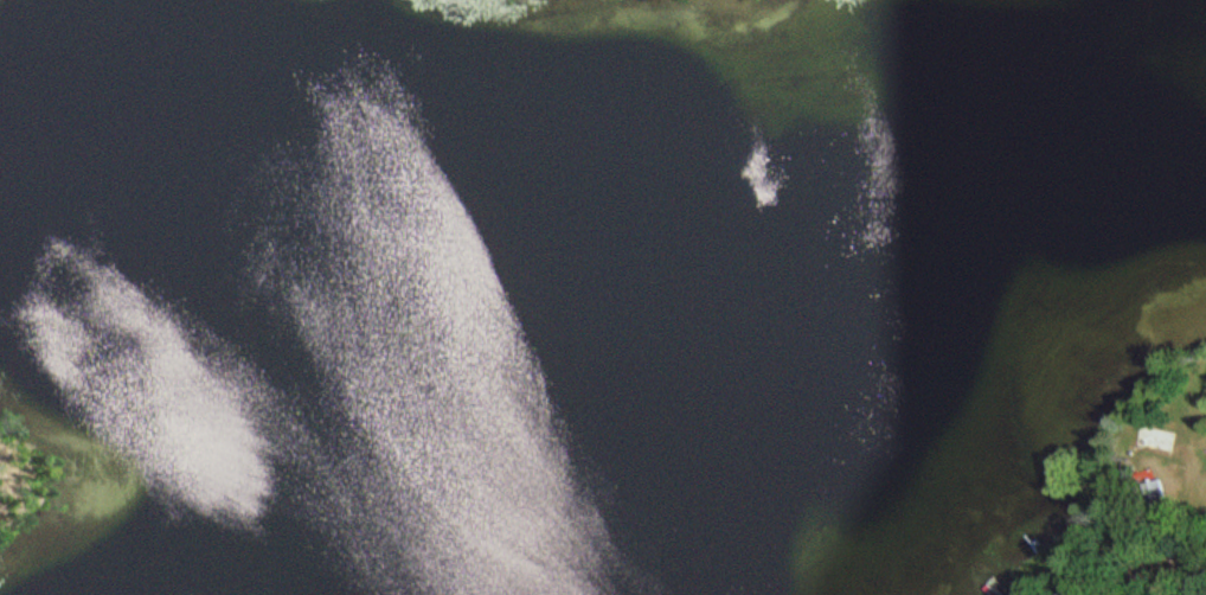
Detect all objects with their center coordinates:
road: (1188, 583)

